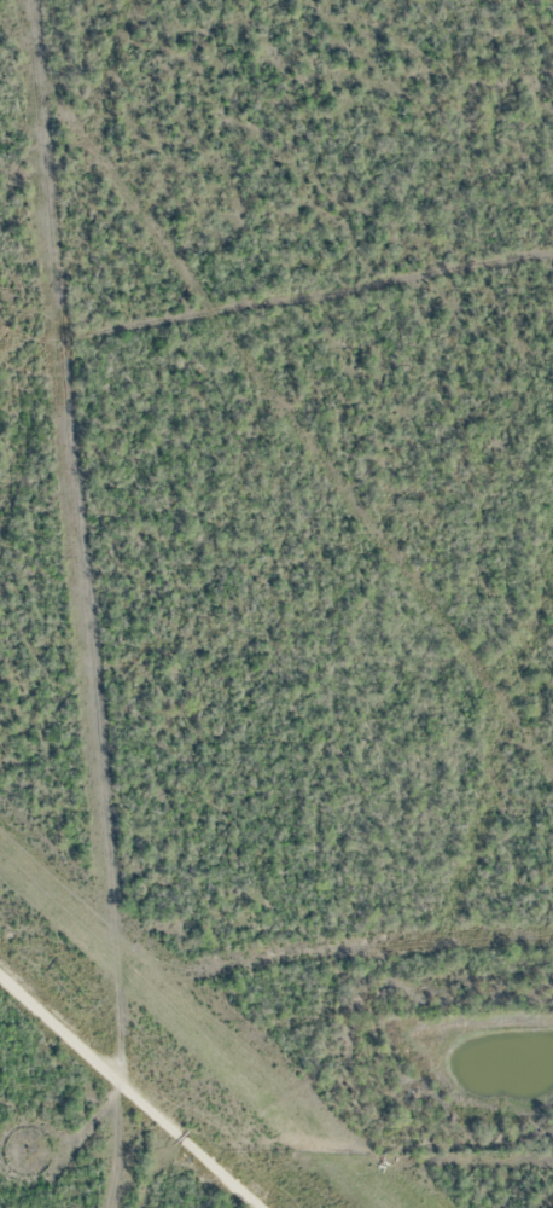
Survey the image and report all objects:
power tower: (85, 1001)

